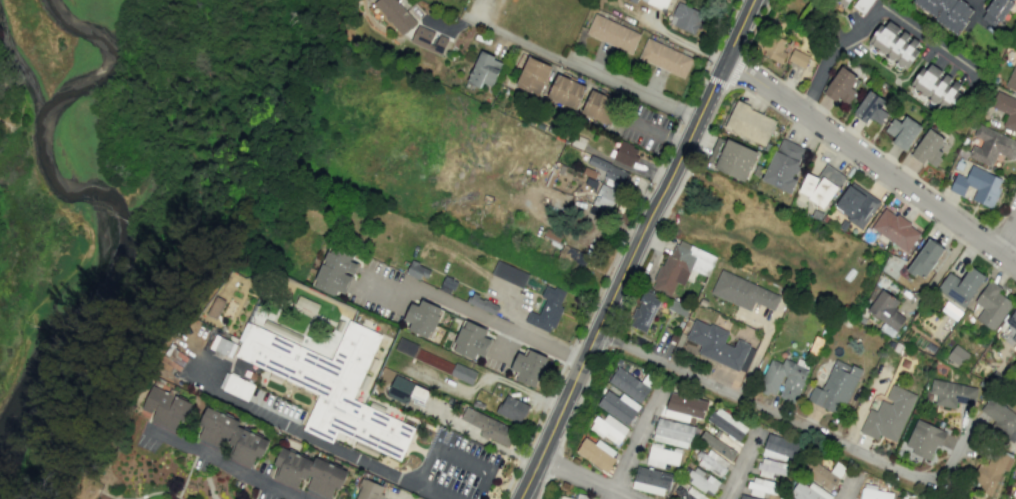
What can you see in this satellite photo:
building: (846, 1)
road: (975, 1)
building: (947, 12)
building: (996, 12)
building: (395, 14)
road: (874, 15)
building: (685, 18)
road: (475, 19)
building: (612, 34)
building: (428, 39)
building: (893, 44)
building: (774, 49)
building: (665, 58)
building: (797, 58)
building: (484, 70)
building: (533, 76)
road: (614, 79)
road: (728, 85)
building: (842, 86)
building: (936, 87)
building: (565, 91)
building: (600, 107)
building: (870, 108)
building: (1005, 109)
building: (749, 124)
building: (903, 132)
road: (865, 142)
building: (991, 146)
building: (928, 149)
building: (625, 153)
building: (732, 158)
road: (873, 159)
building: (783, 165)
building: (608, 170)
road: (873, 180)
building: (821, 185)
building: (978, 185)
building: (603, 202)
building: (856, 205)
road: (668, 208)
river: (102, 210)
building: (895, 230)
road: (1003, 234)
road: (1010, 241)
road: (90, 245)
road: (617, 249)
road: (641, 250)
building: (572, 257)
building: (925, 259)
building: (681, 265)
building: (418, 270)
building: (335, 271)
road: (939, 271)
building: (509, 274)
building: (960, 286)
building: (743, 292)
building: (307, 304)
building: (991, 305)
building: (216, 306)
building: (547, 309)
building: (885, 310)
building: (950, 311)
building: (644, 312)
road: (481, 315)
building: (423, 318)
road: (606, 339)
building: (471, 340)
building: (223, 346)
building: (719, 346)
building: (957, 355)
building: (435, 361)
building: (529, 367)
building: (783, 380)
building: (630, 384)
building: (330, 385)
building: (236, 386)
building: (835, 387)
building: (400, 389)
building: (951, 393)
building: (419, 395)
road: (579, 400)
building: (619, 407)
building: (684, 407)
building: (165, 408)
building: (512, 409)
building: (888, 415)
building: (1000, 418)
road: (798, 422)
building: (727, 424)
building: (490, 427)
building: (609, 429)
building: (673, 433)
building: (230, 438)
building: (924, 439)
road: (319, 441)
road: (635, 444)
building: (717, 446)
building: (780, 448)
road: (457, 453)
building: (597, 453)
building: (662, 457)
building: (711, 463)
road: (228, 464)
road: (553, 465)
parking lot: (454, 468)
building: (773, 468)
road: (740, 469)
building: (990, 472)
building: (307, 473)
building: (825, 474)
road: (586, 478)
building: (651, 481)
building: (701, 481)
building: (761, 487)
road: (542, 489)
building: (369, 490)
building: (808, 492)
road: (844, 492)
building: (873, 492)
building: (687, 494)
building: (570, 497)
building: (746, 497)

